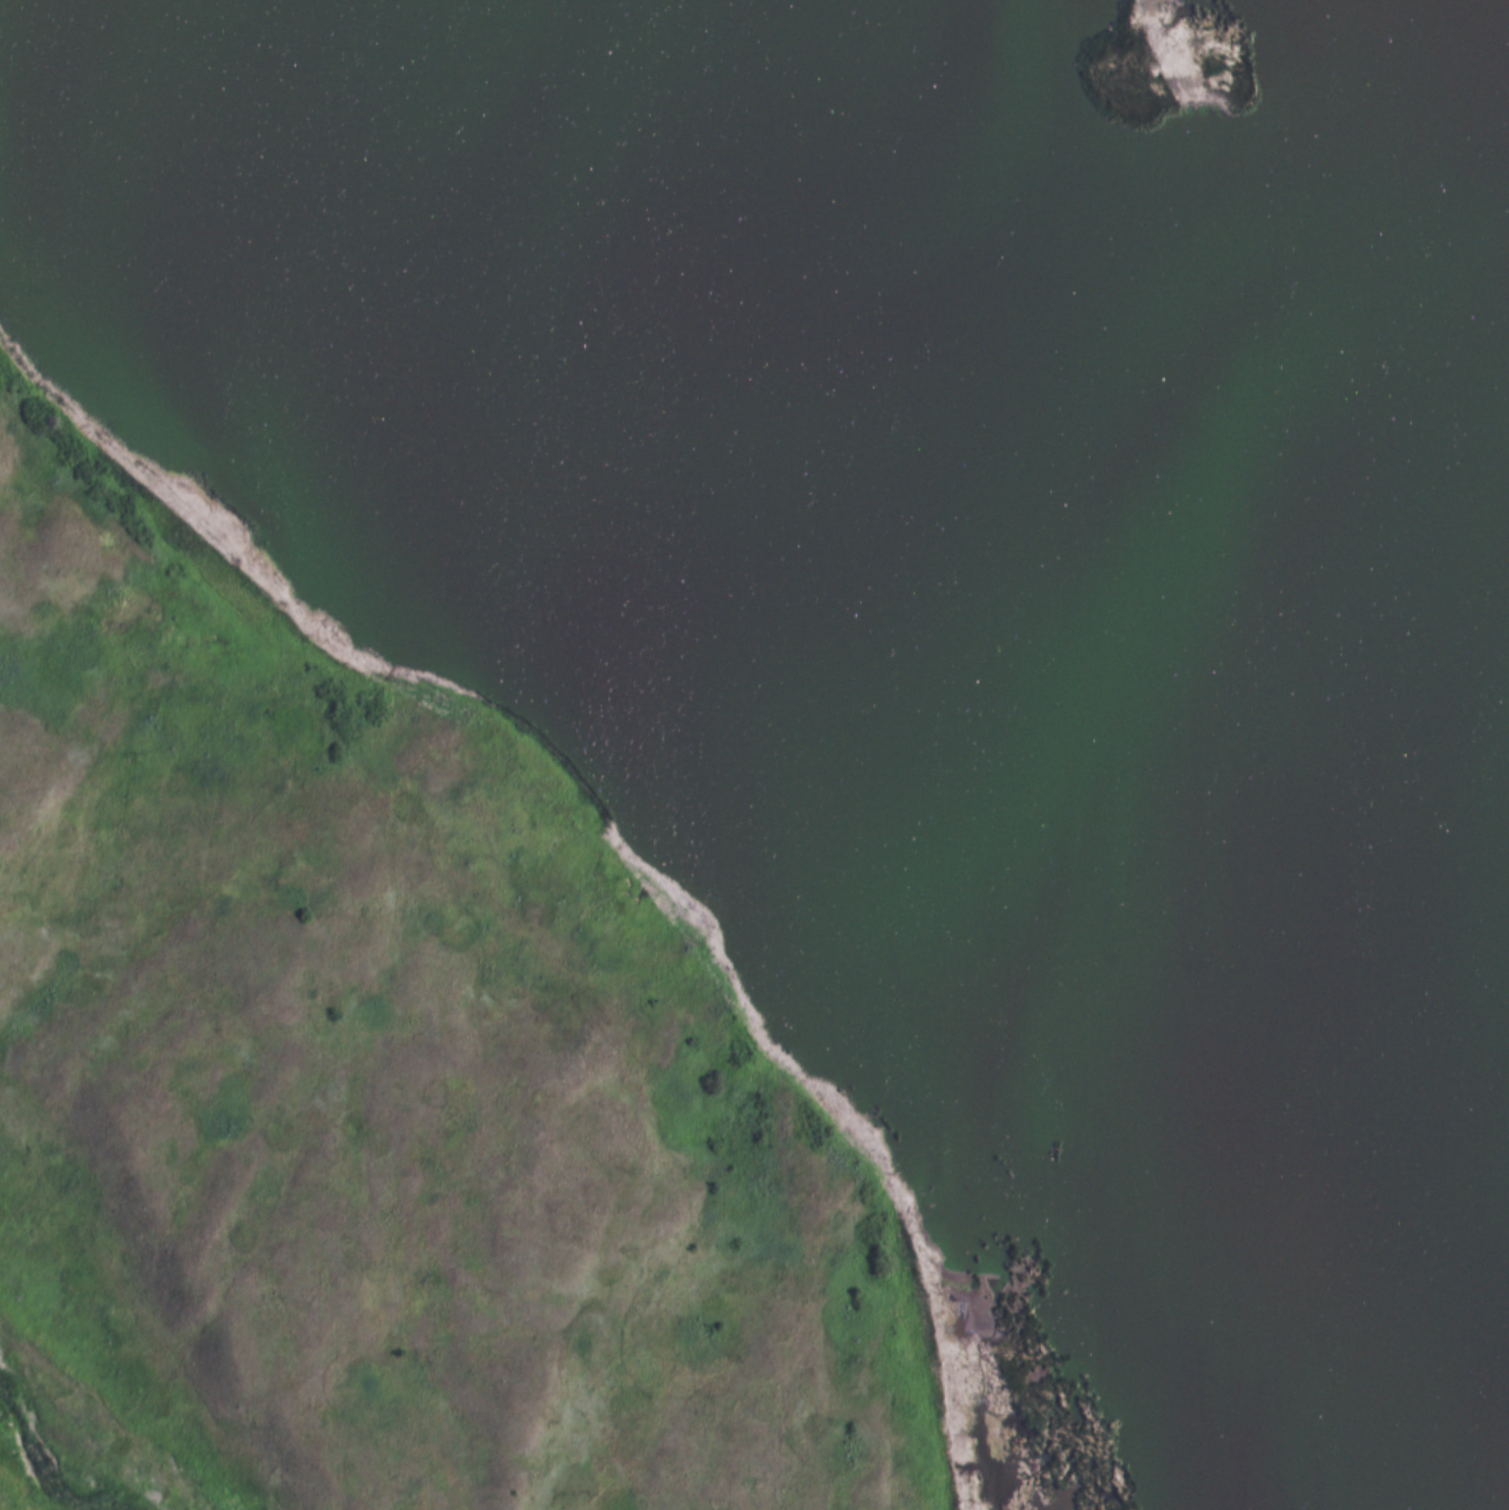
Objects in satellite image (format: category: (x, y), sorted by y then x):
river: (30, 1450)

